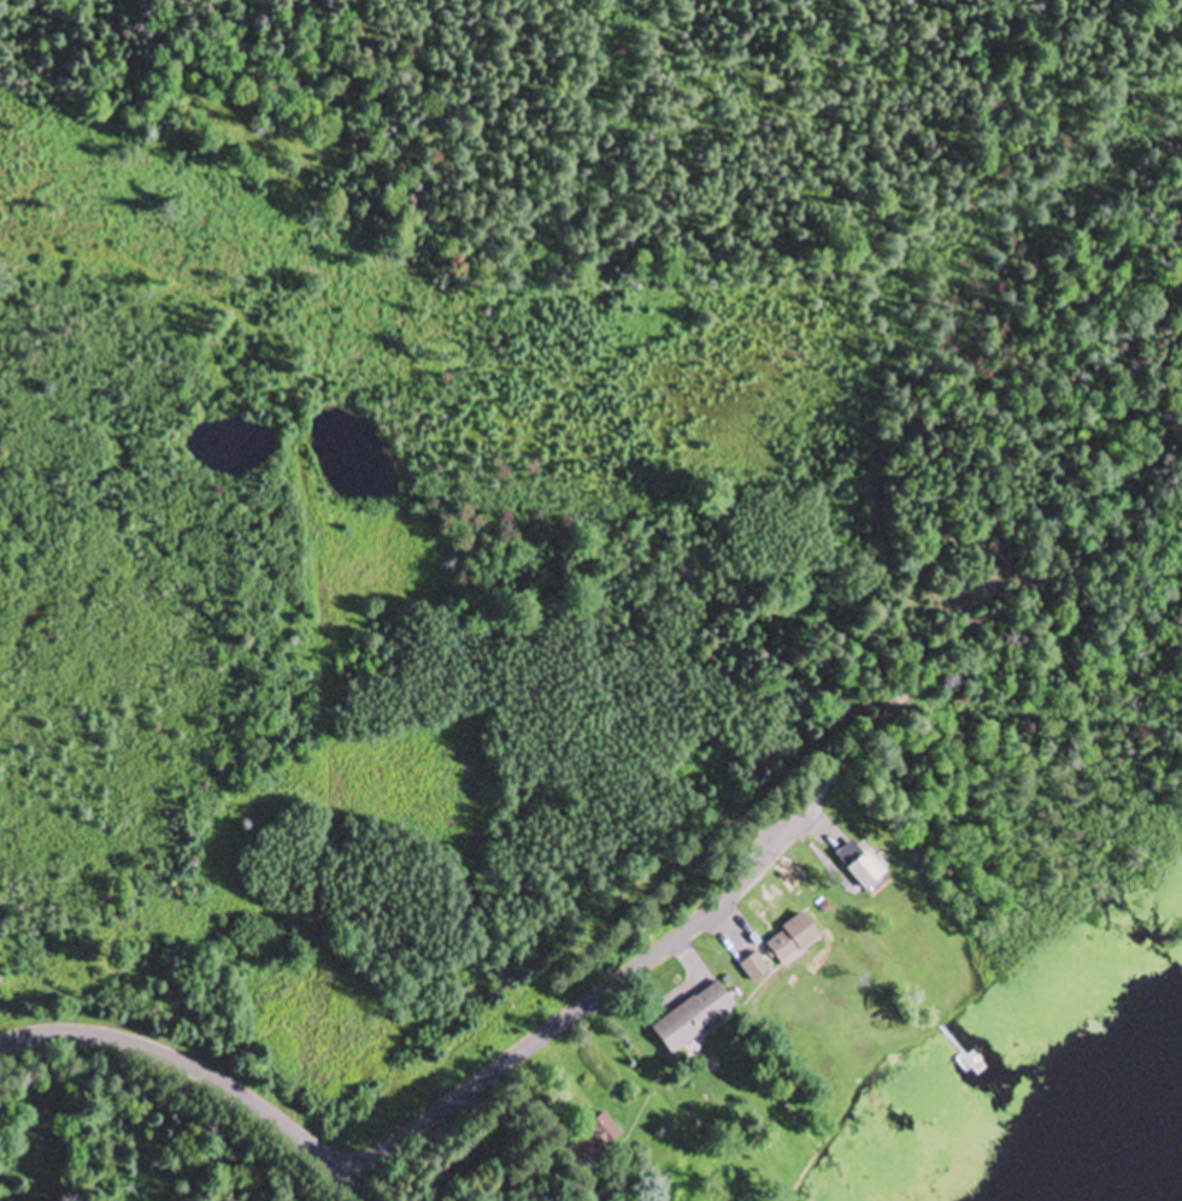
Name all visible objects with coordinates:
building: (863, 865)
building: (794, 938)
building: (755, 966)
building: (696, 1017)
road: (435, 1114)
building: (593, 1142)

